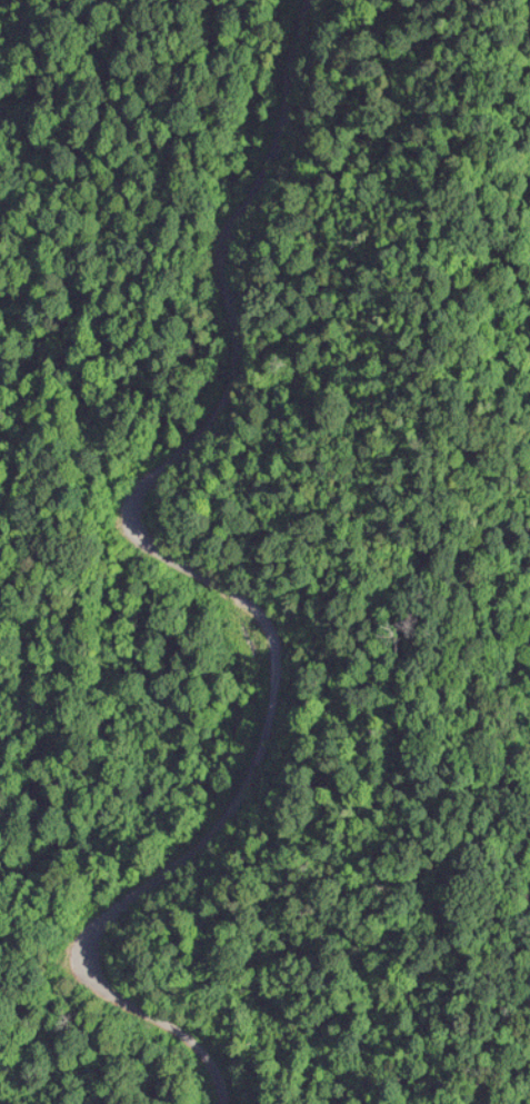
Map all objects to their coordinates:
road: (237, 599)

